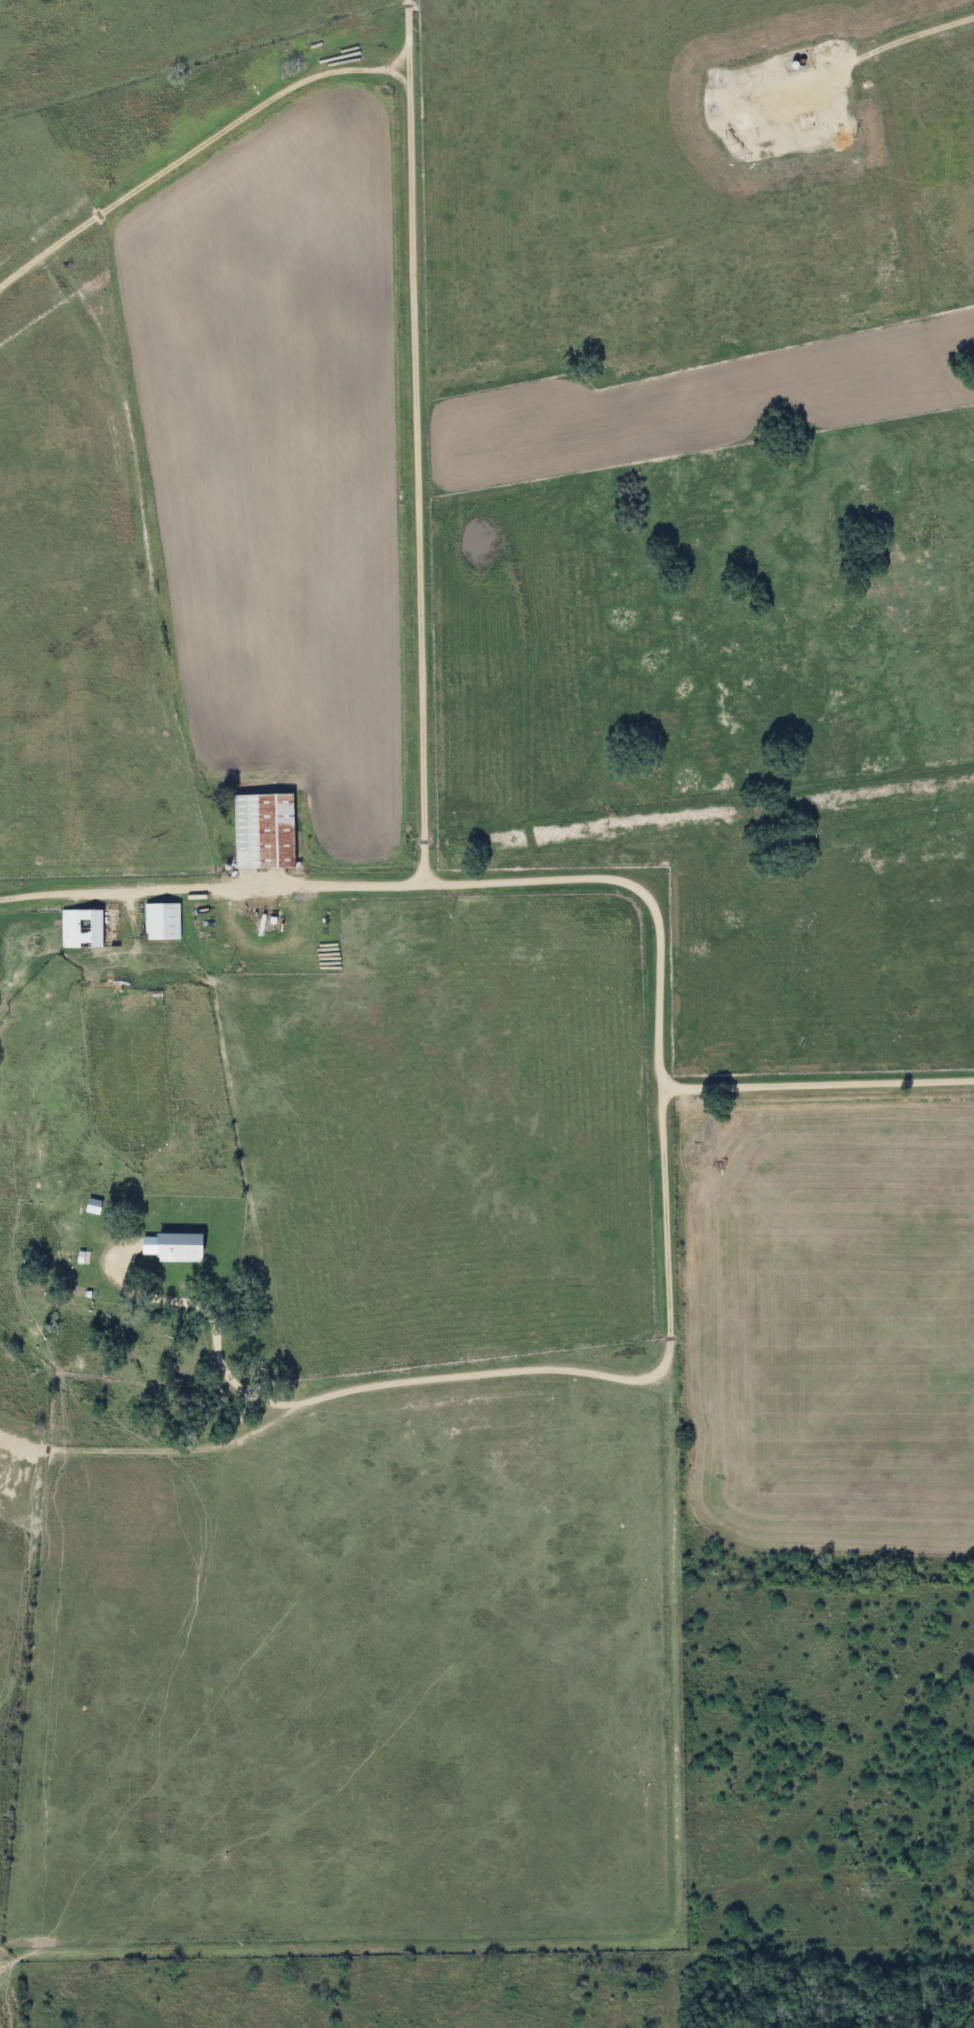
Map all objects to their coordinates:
road: (878, 49)
road: (418, 441)
building: (260, 831)
road: (575, 877)
building: (159, 921)
building: (87, 928)
building: (90, 1206)
building: (143, 1245)
building: (175, 1247)
road: (490, 1372)

